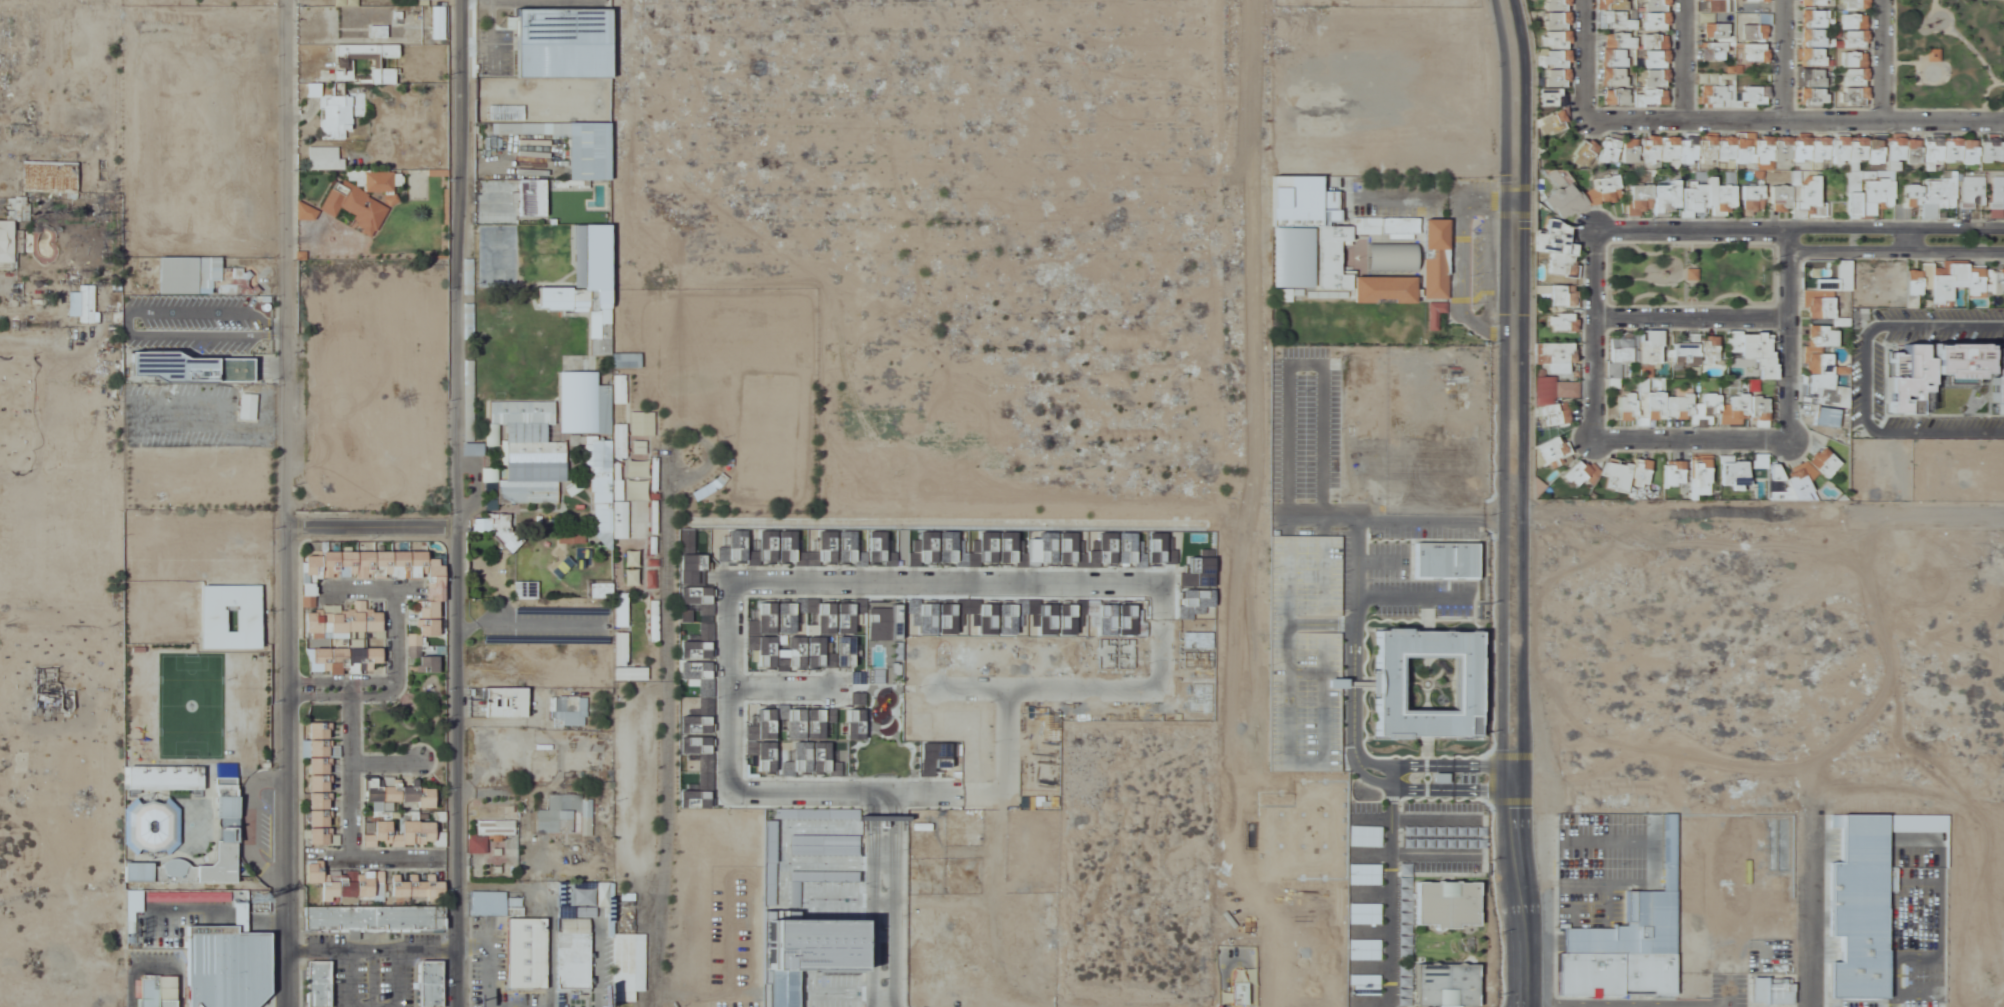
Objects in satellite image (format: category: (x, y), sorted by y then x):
park: (1693, 269)

